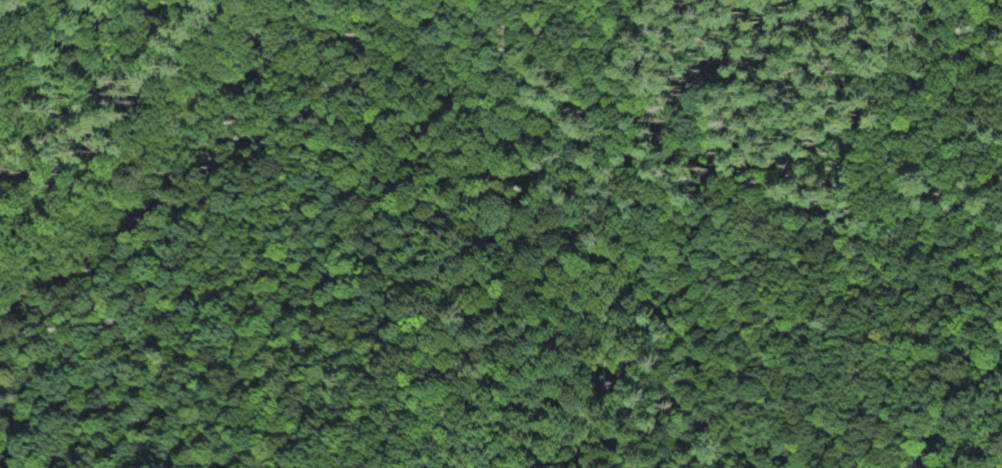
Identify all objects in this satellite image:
road: (895, 42)
road: (160, 119)

